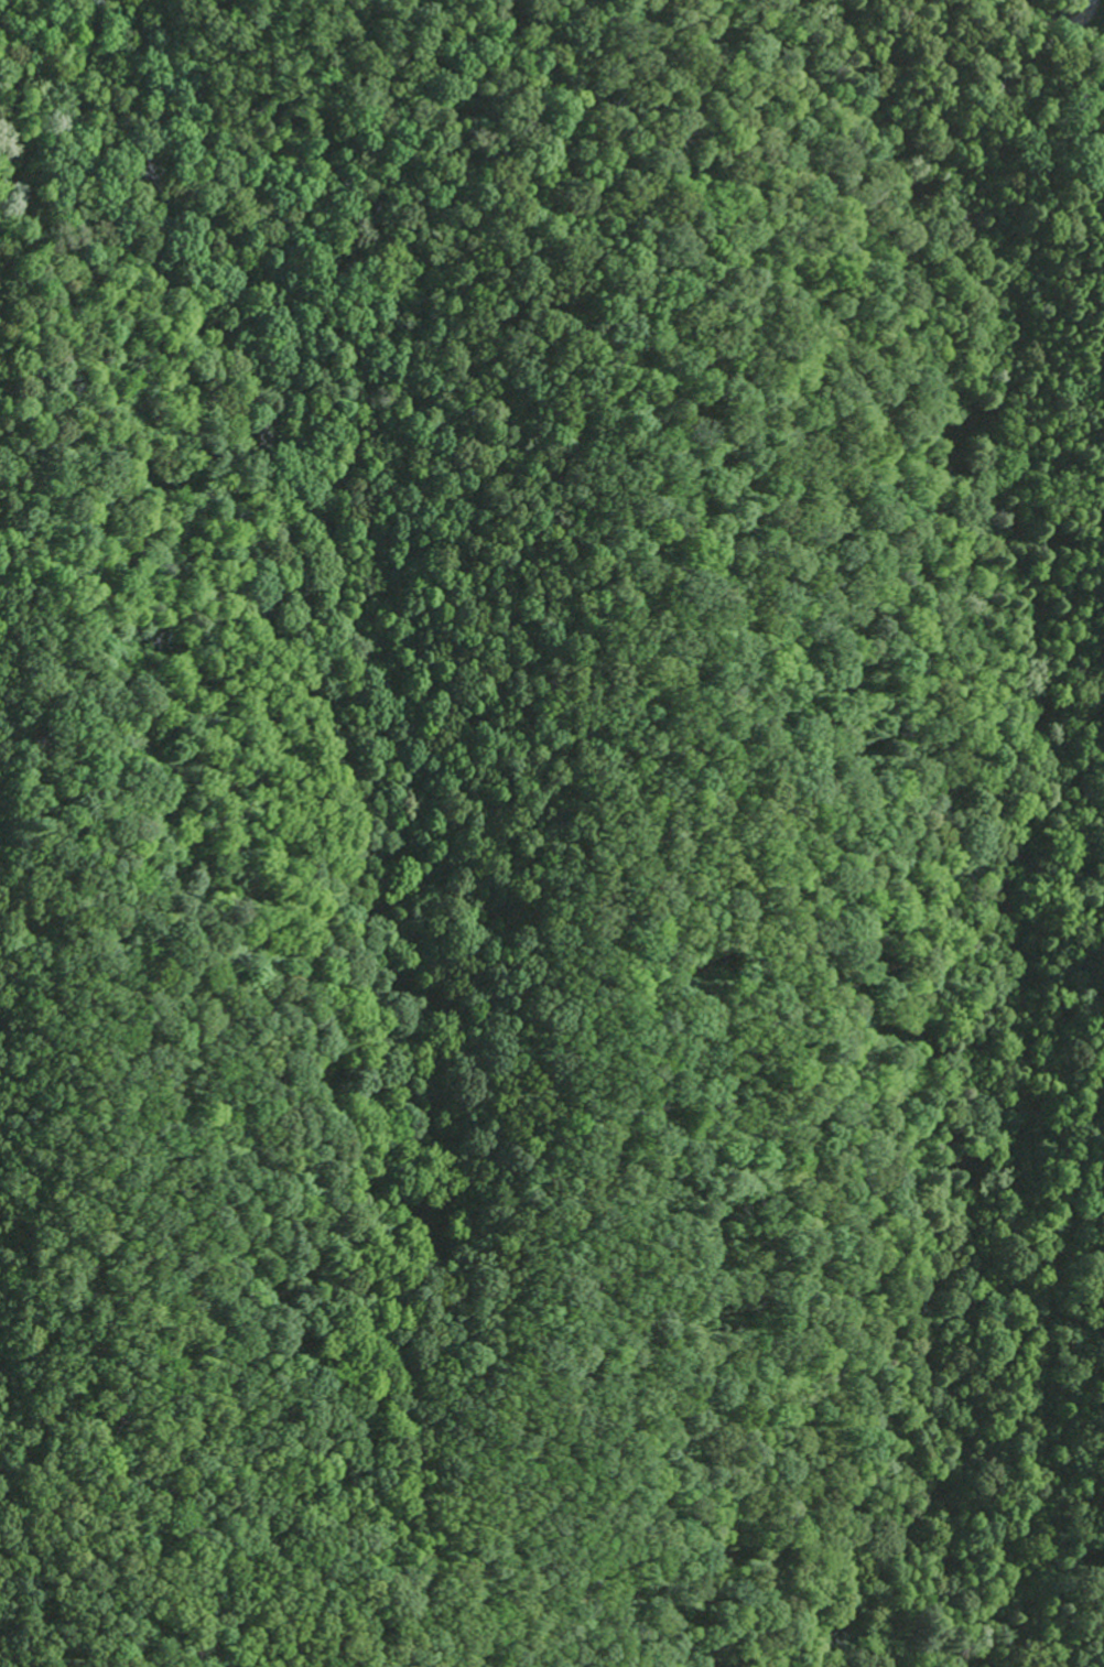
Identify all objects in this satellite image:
road: (1057, 17)
road: (1057, 1300)

